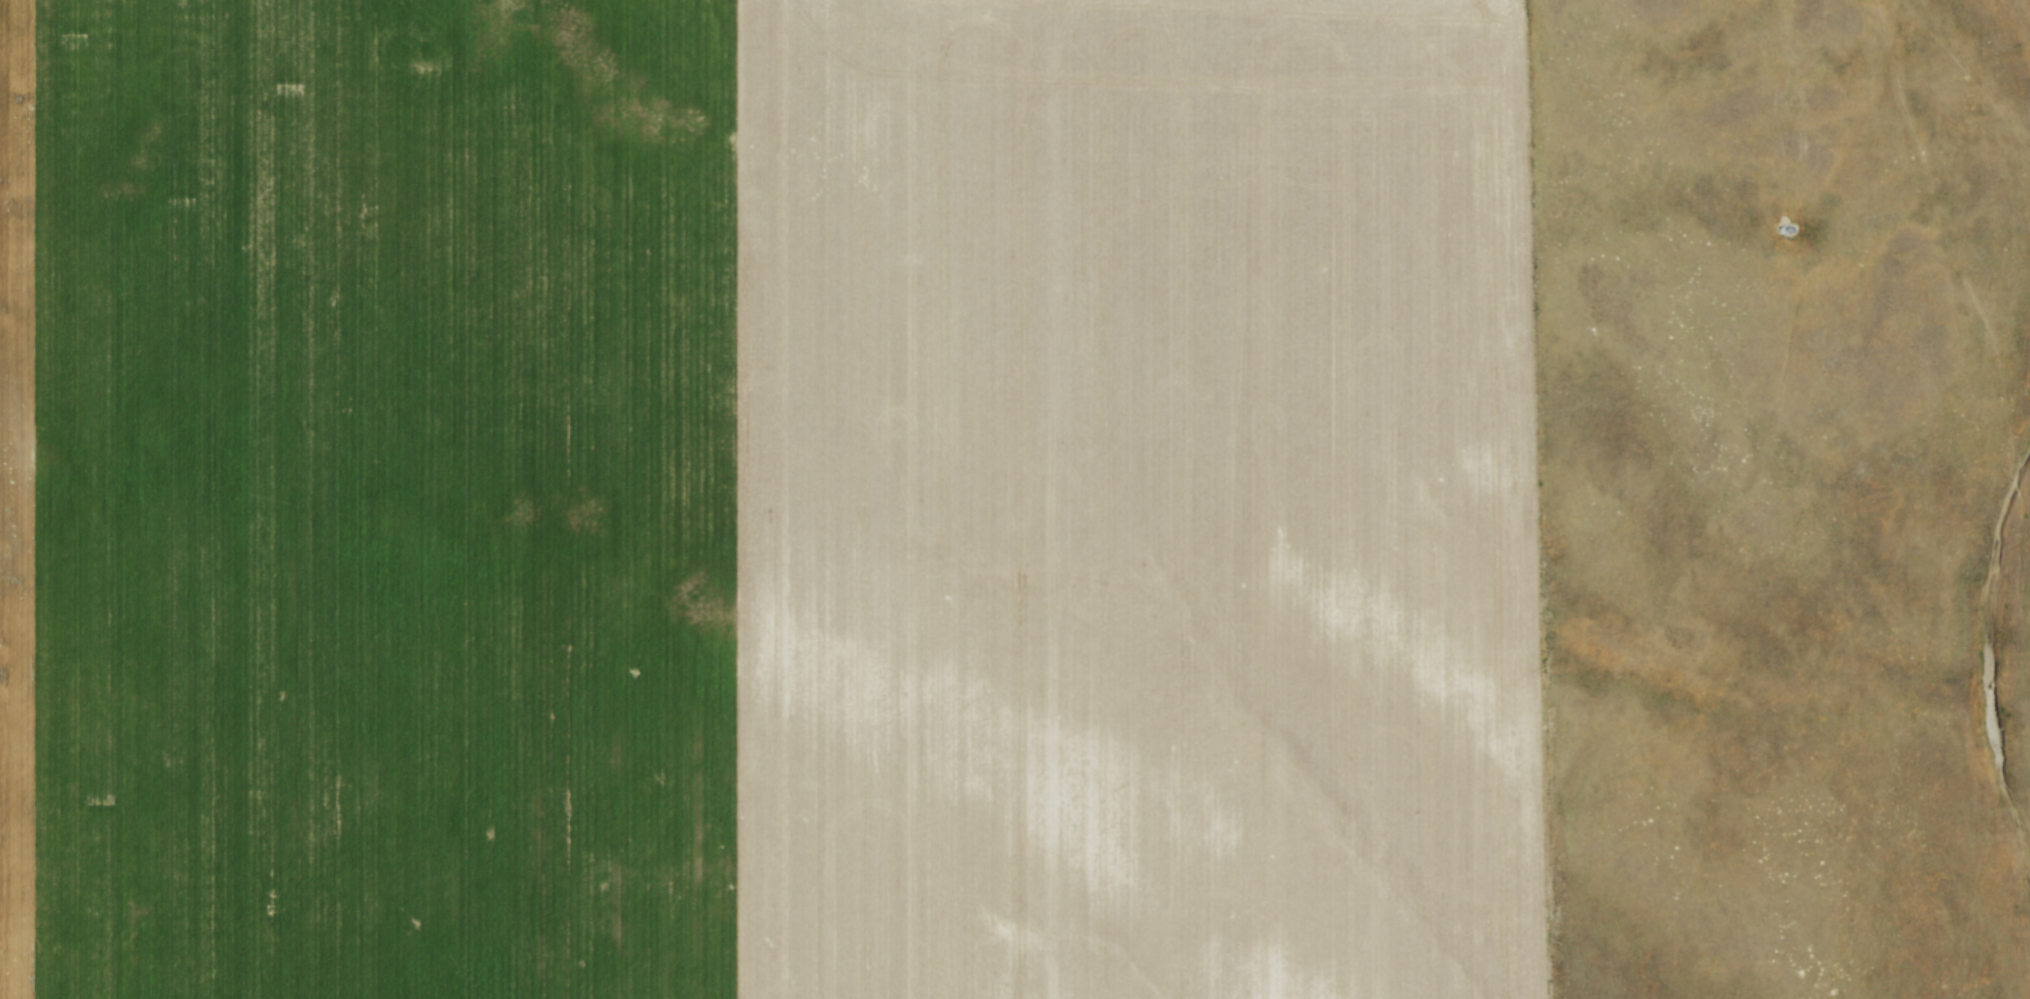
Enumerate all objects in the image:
crop: (762, 500)

